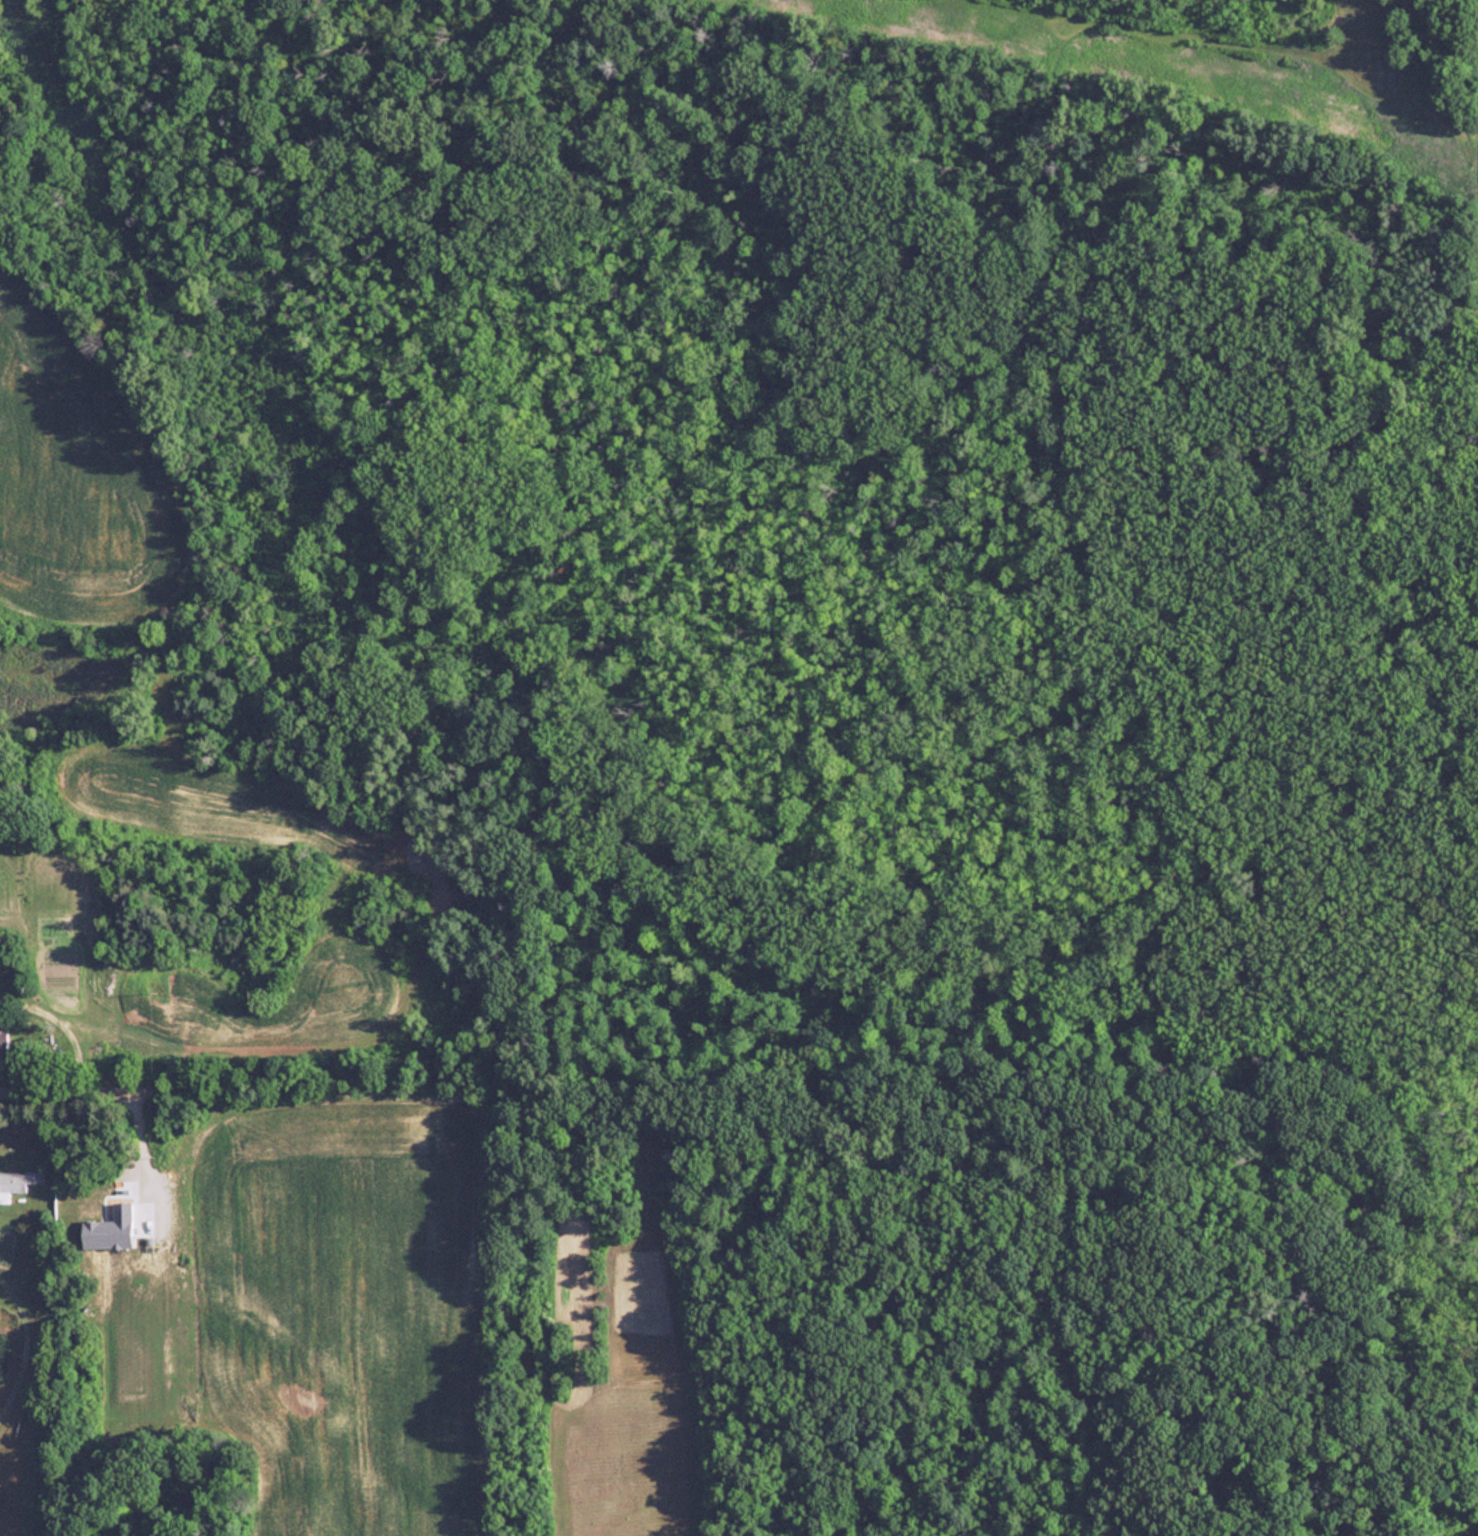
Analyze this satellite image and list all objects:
road: (97, 1090)
building: (17, 1182)

